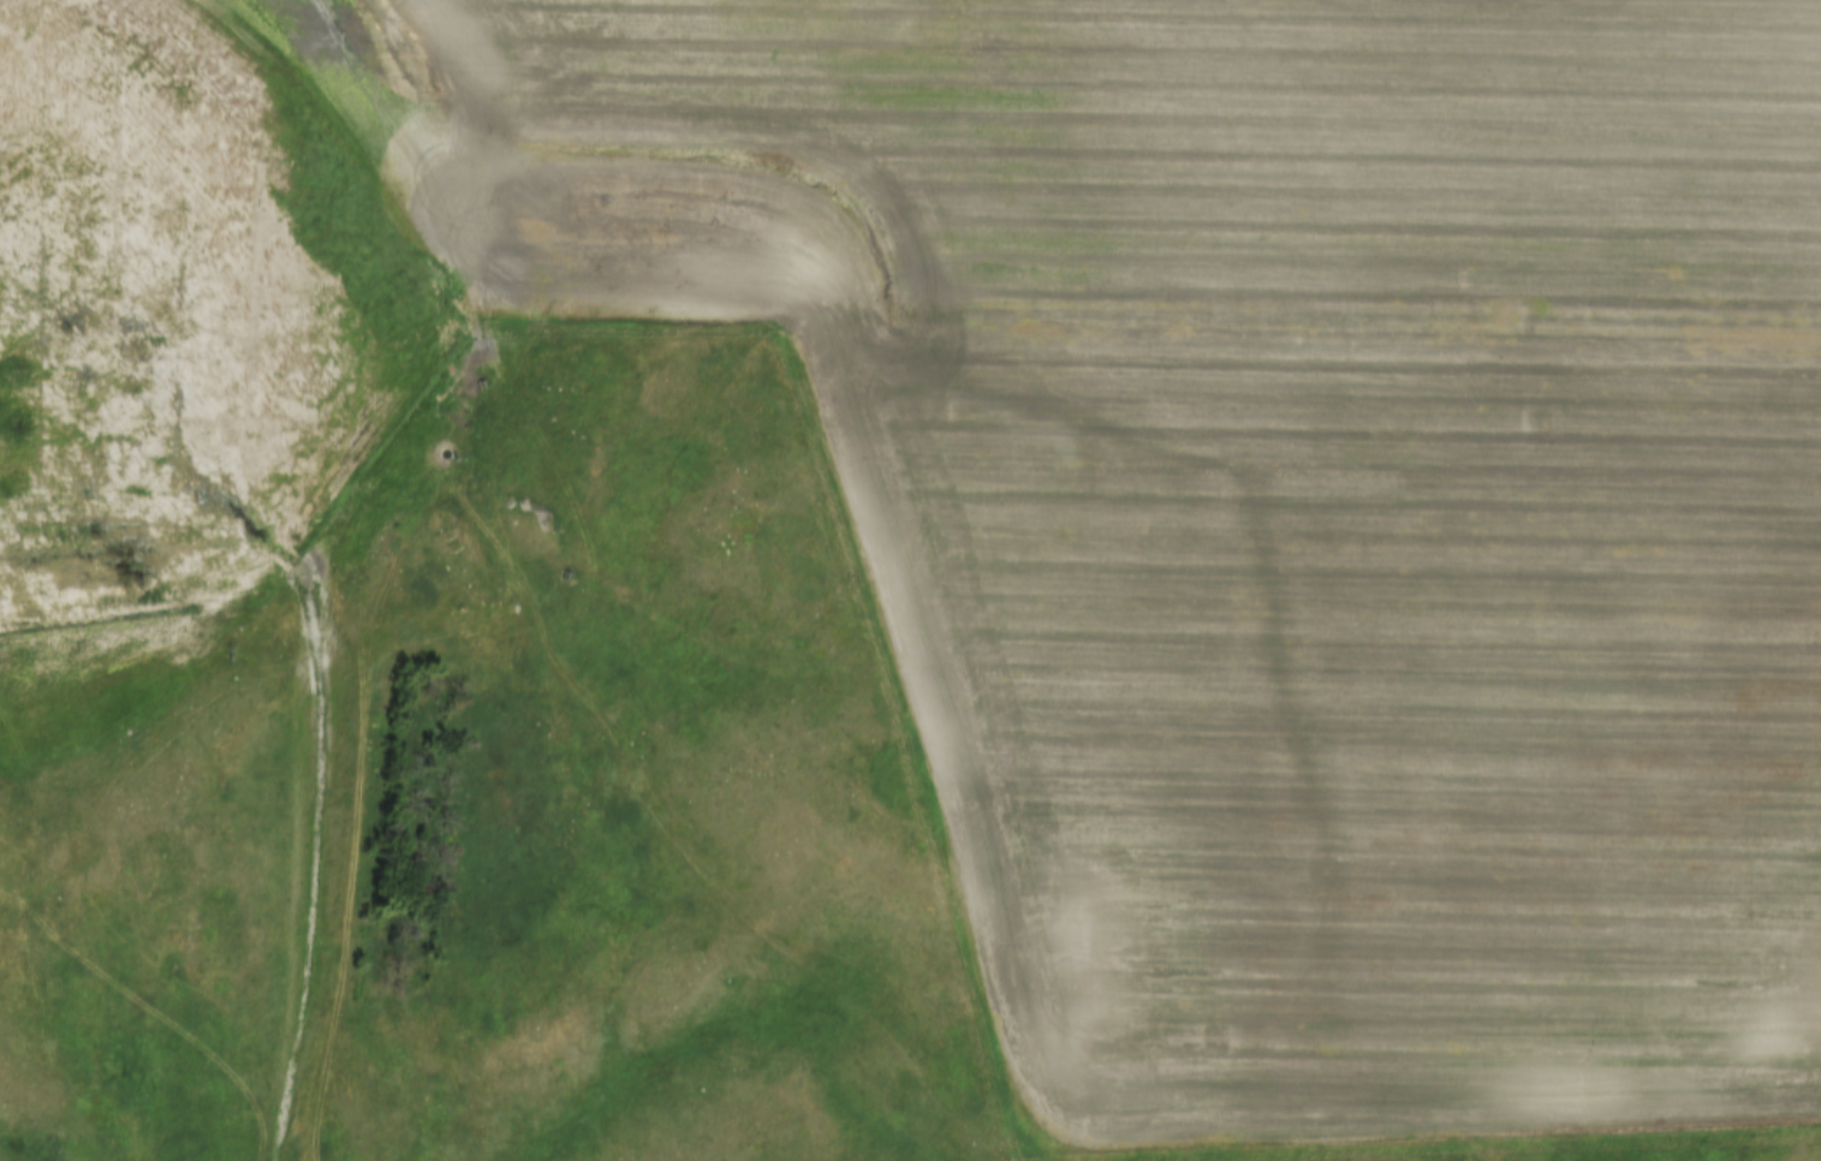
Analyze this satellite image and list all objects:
road: (393, 224)

